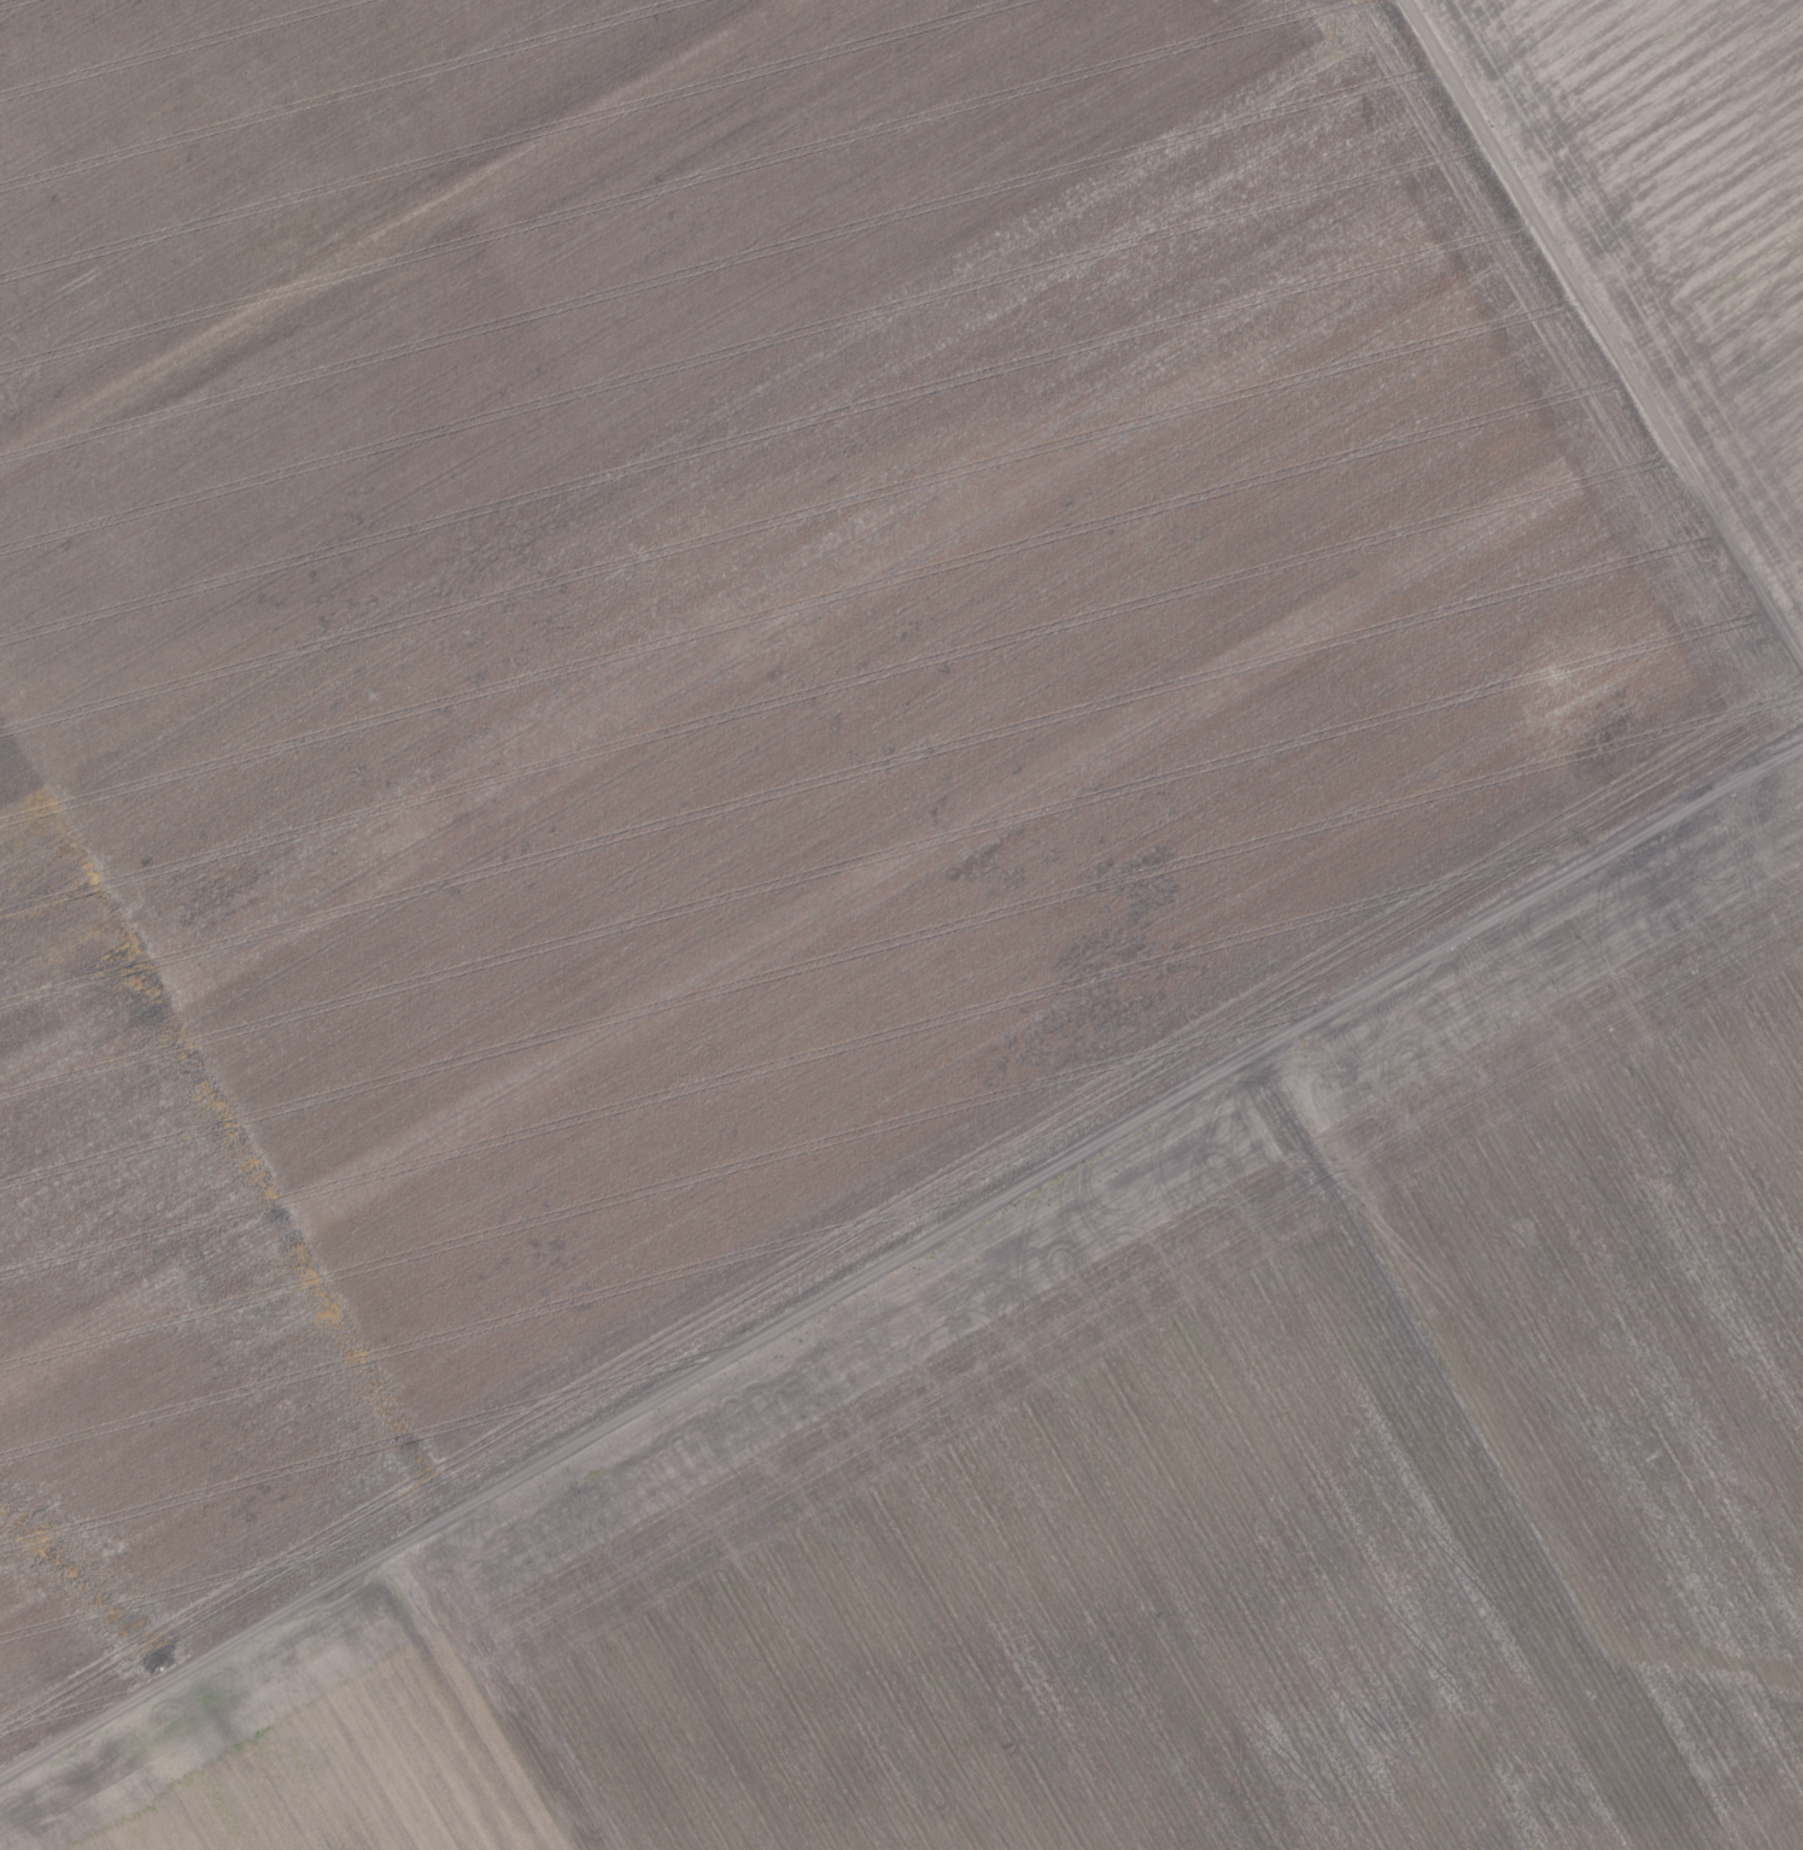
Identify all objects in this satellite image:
road: (1605, 334)
road: (1675, 607)
road: (1094, 1132)
road: (193, 1656)
road: (475, 1696)

